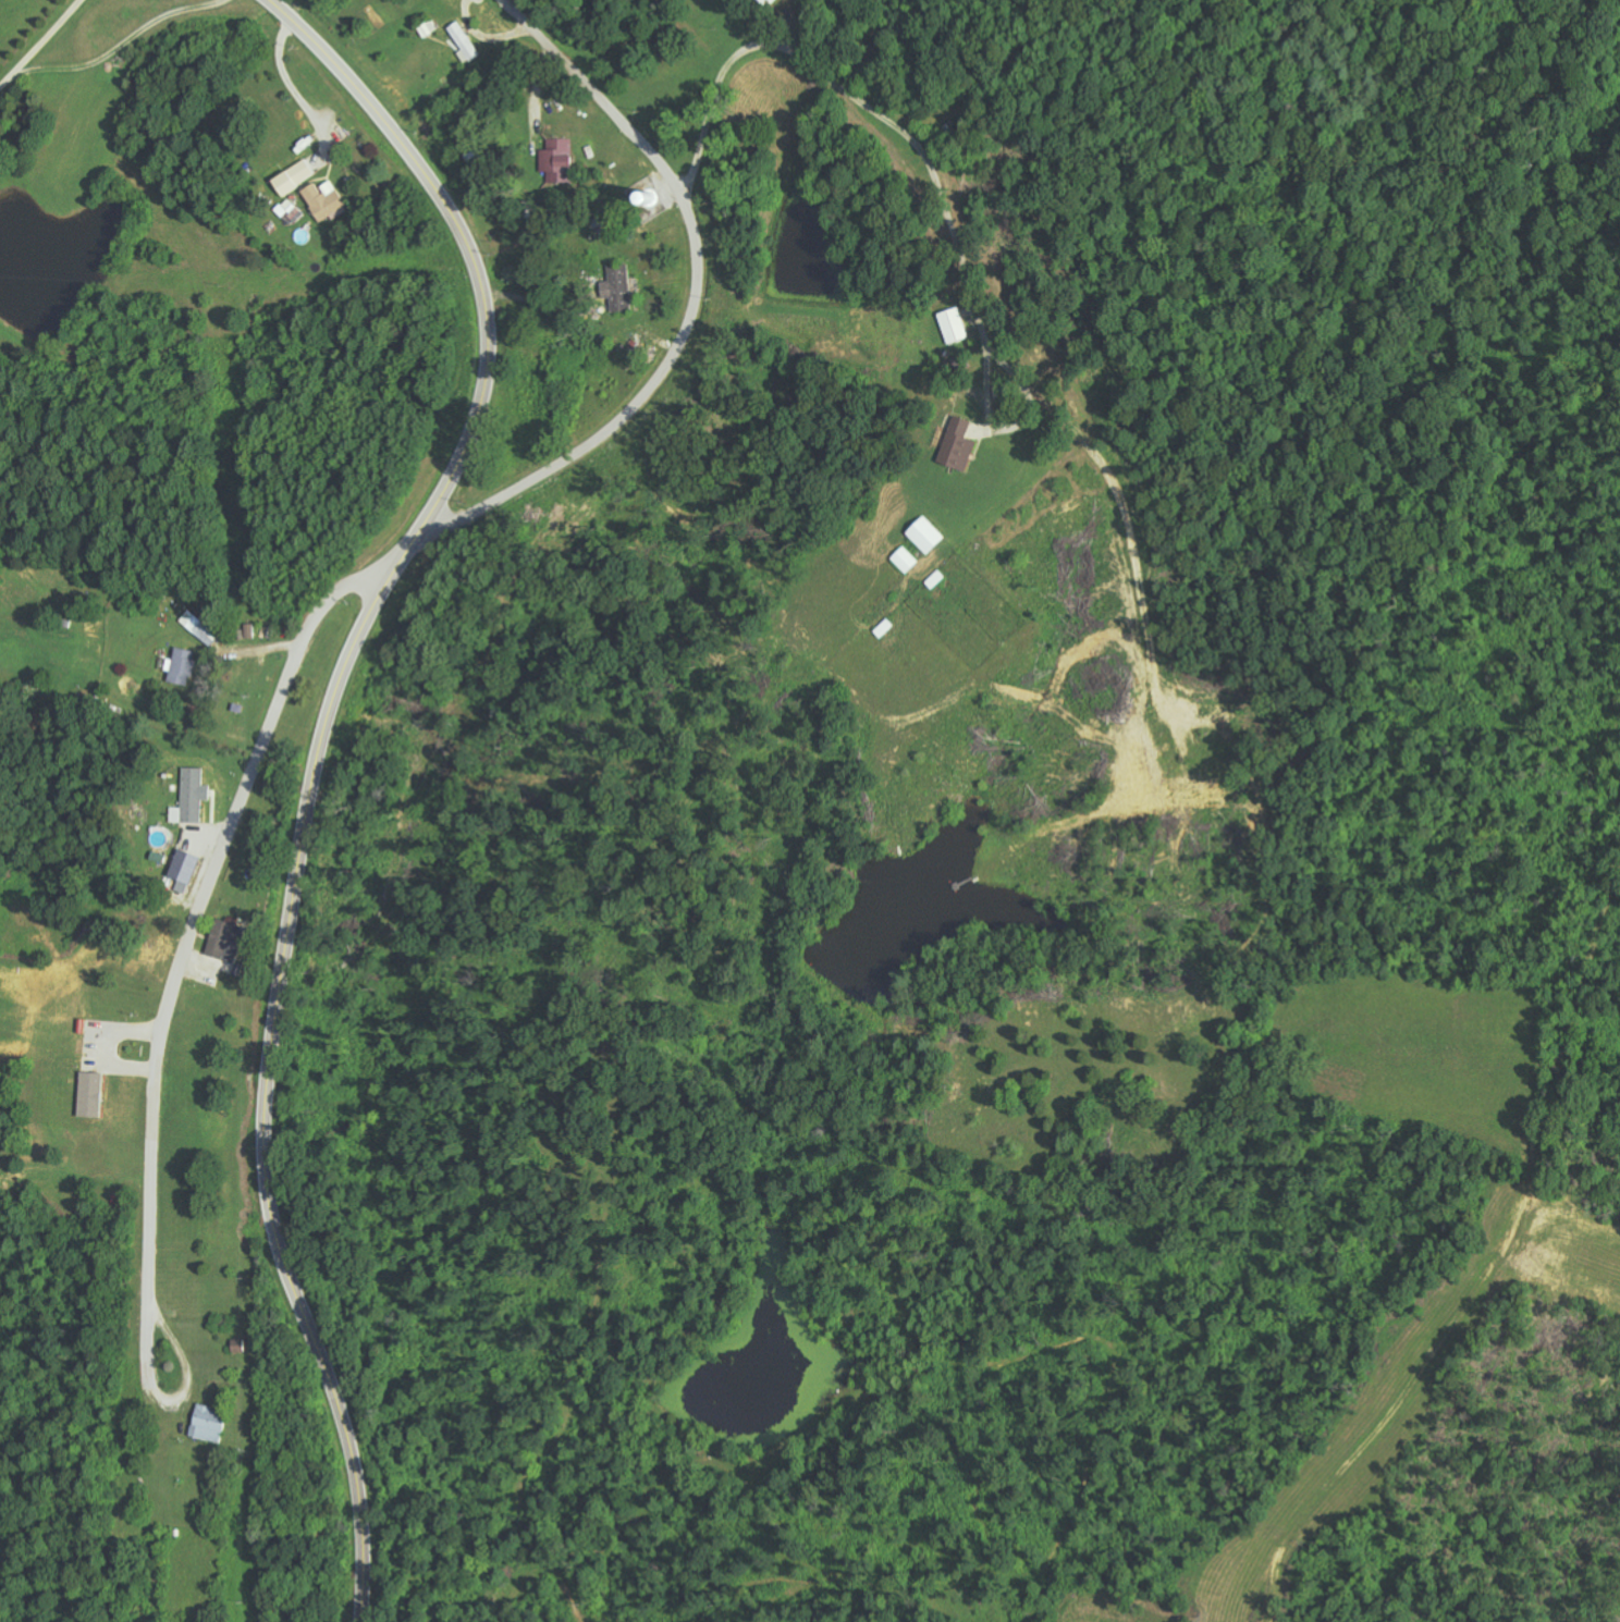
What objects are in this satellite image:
building: (764, 2)
road: (417, 77)
building: (555, 158)
road: (478, 169)
building: (292, 177)
building: (323, 200)
building: (289, 211)
building: (617, 287)
road: (690, 308)
building: (952, 325)
building: (957, 444)
building: (924, 534)
building: (904, 560)
building: (199, 627)
building: (182, 665)
road: (317, 763)
building: (188, 797)
building: (183, 869)
road: (206, 899)
building: (224, 939)
building: (88, 1093)
road: (154, 1375)
building: (208, 1423)

